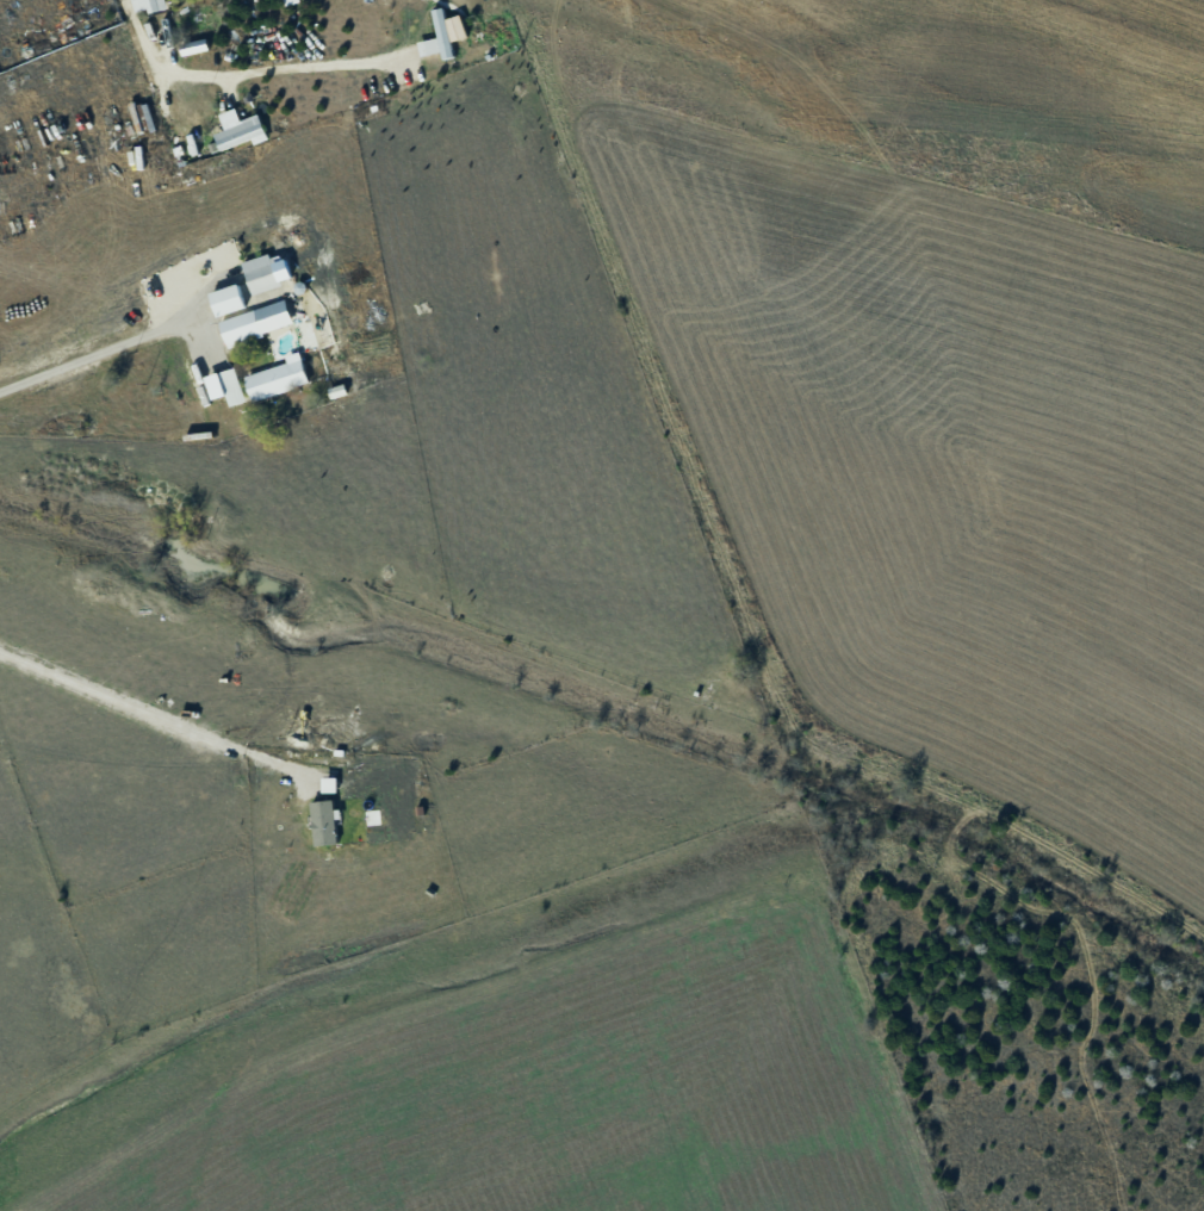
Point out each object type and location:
building: (287, 2)
building: (147, 6)
building: (441, 36)
building: (193, 48)
road: (224, 69)
building: (237, 131)
building: (260, 274)
building: (225, 300)
building: (254, 323)
road: (88, 350)
building: (277, 379)
building: (224, 387)
road: (144, 709)
building: (328, 785)
building: (323, 824)

